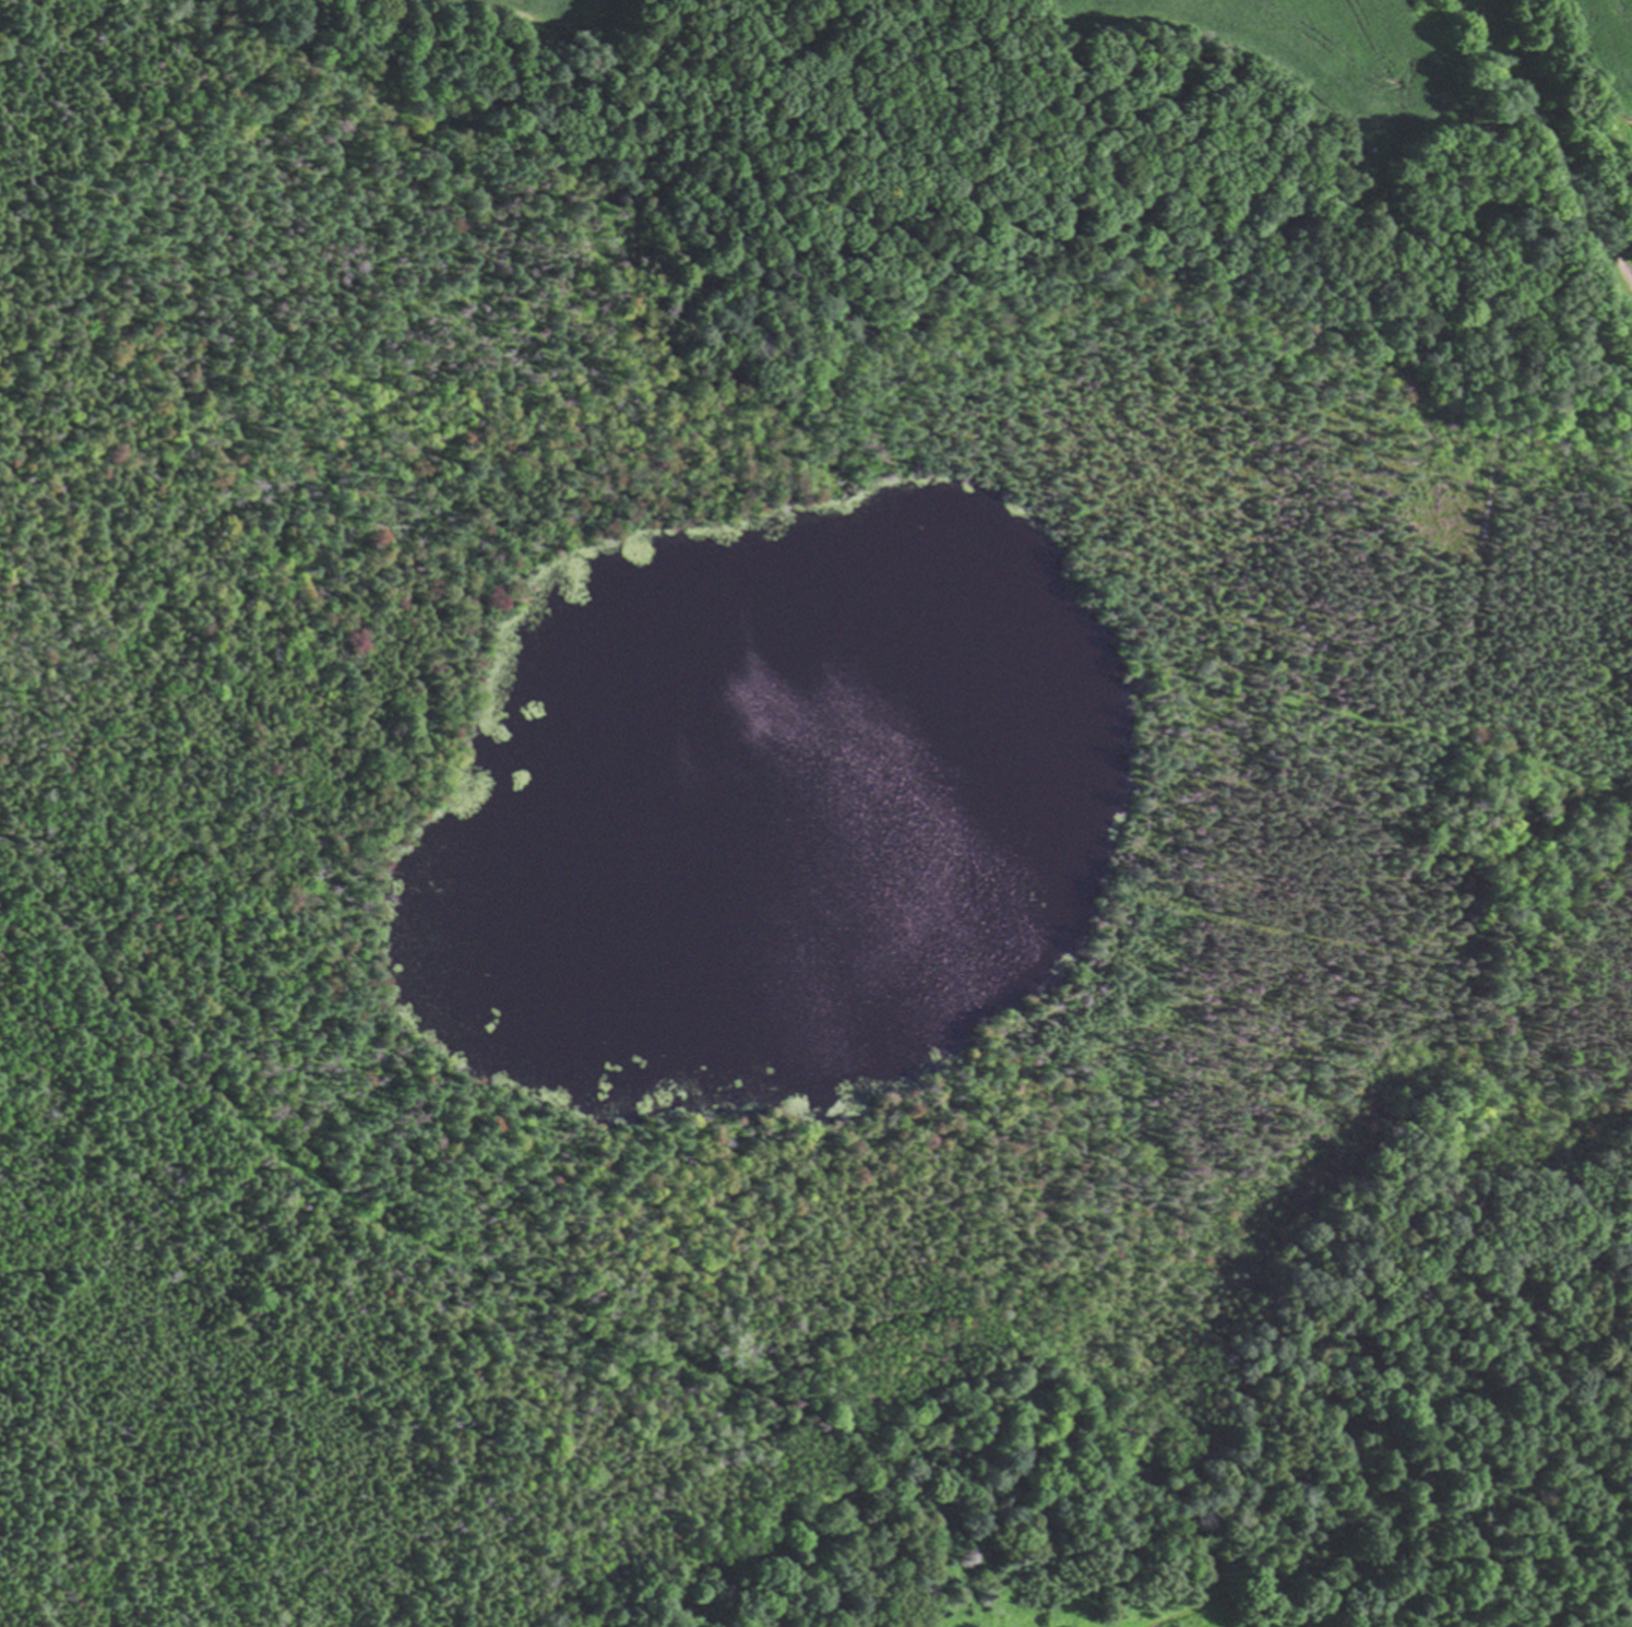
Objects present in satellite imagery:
road: (1552, 146)

